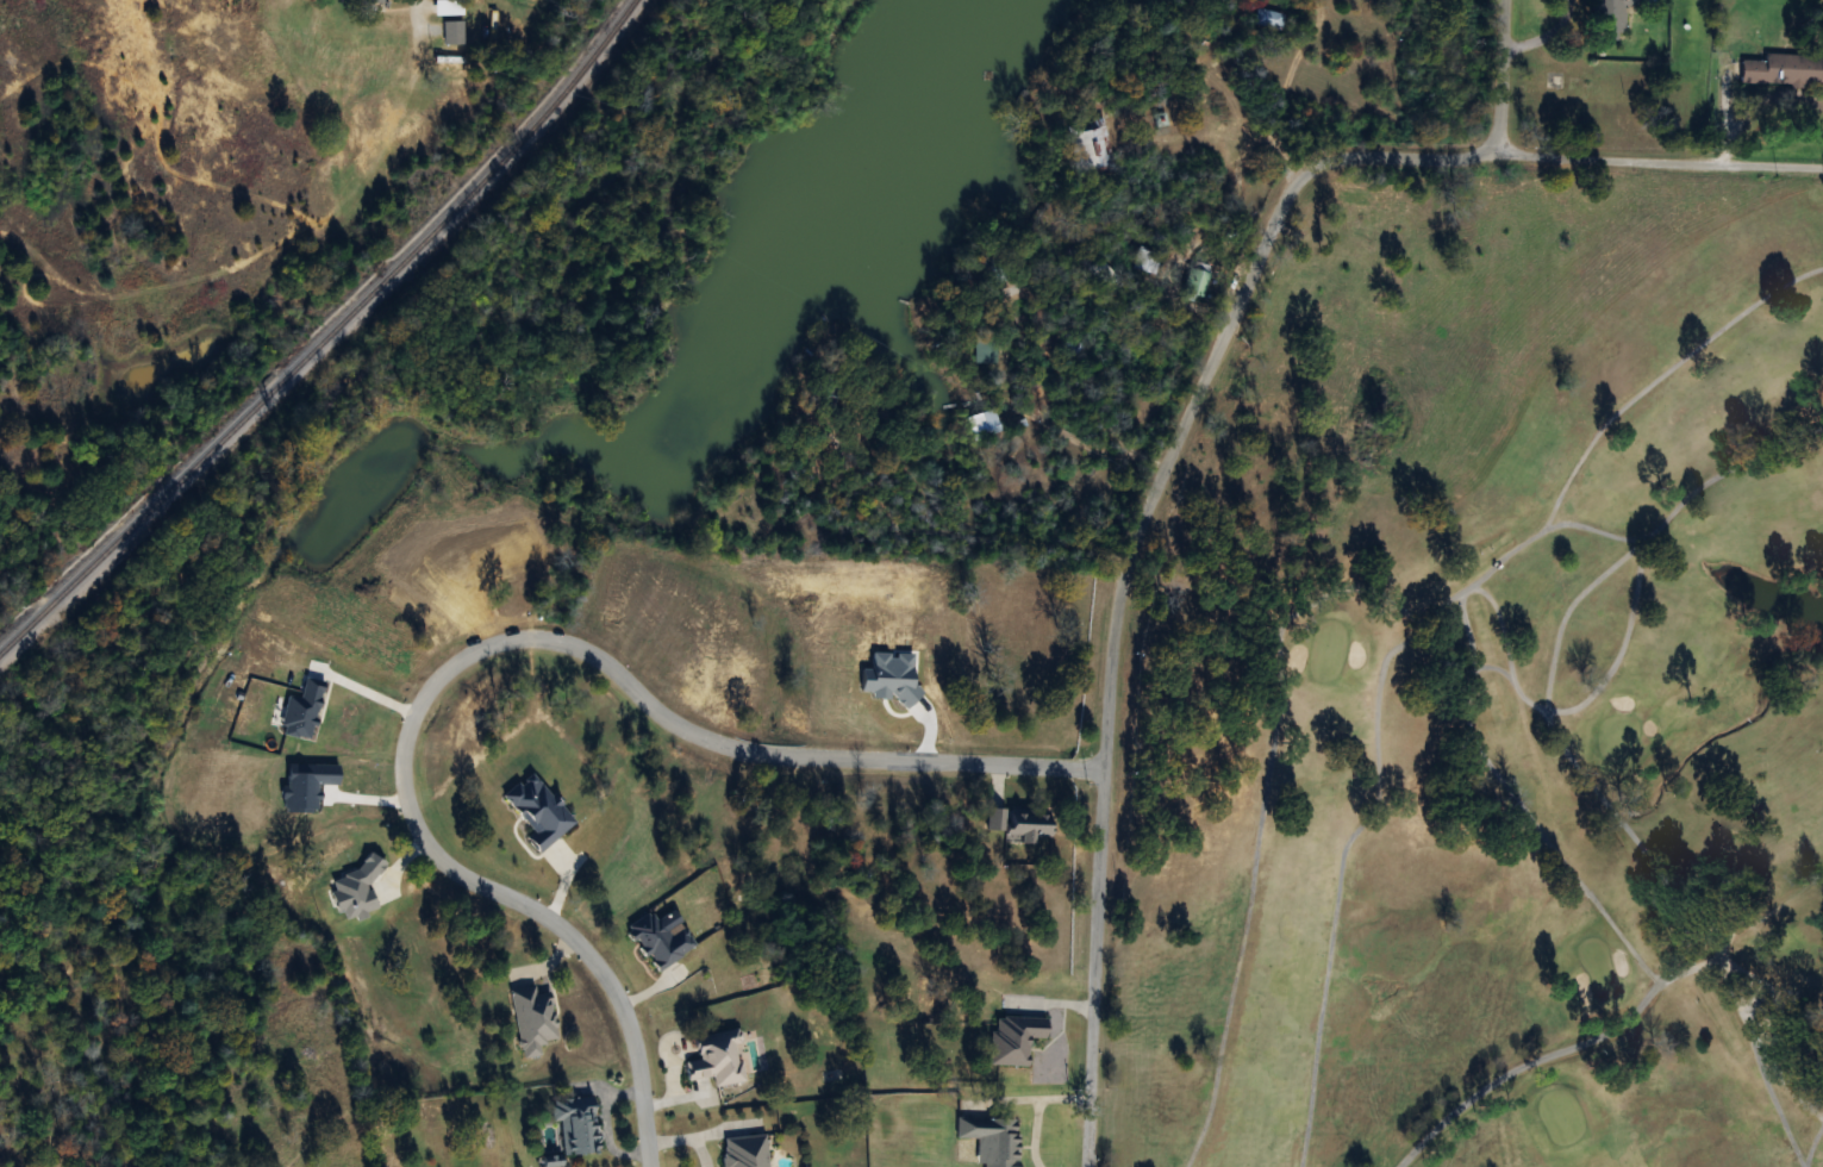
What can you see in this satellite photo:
building: (367, 1)
building: (448, 8)
building: (1611, 15)
building: (1269, 19)
building: (454, 33)
building: (444, 60)
building: (1784, 70)
road: (1278, 74)
road: (1503, 76)
building: (1091, 150)
road: (1562, 155)
building: (1195, 283)
building: (1379, 292)
railway: (336, 341)
building: (985, 351)
building: (987, 430)
road: (1116, 645)
road: (483, 647)
building: (1014, 1038)
building: (717, 1059)
building: (576, 1124)
building: (992, 1138)
building: (745, 1150)

